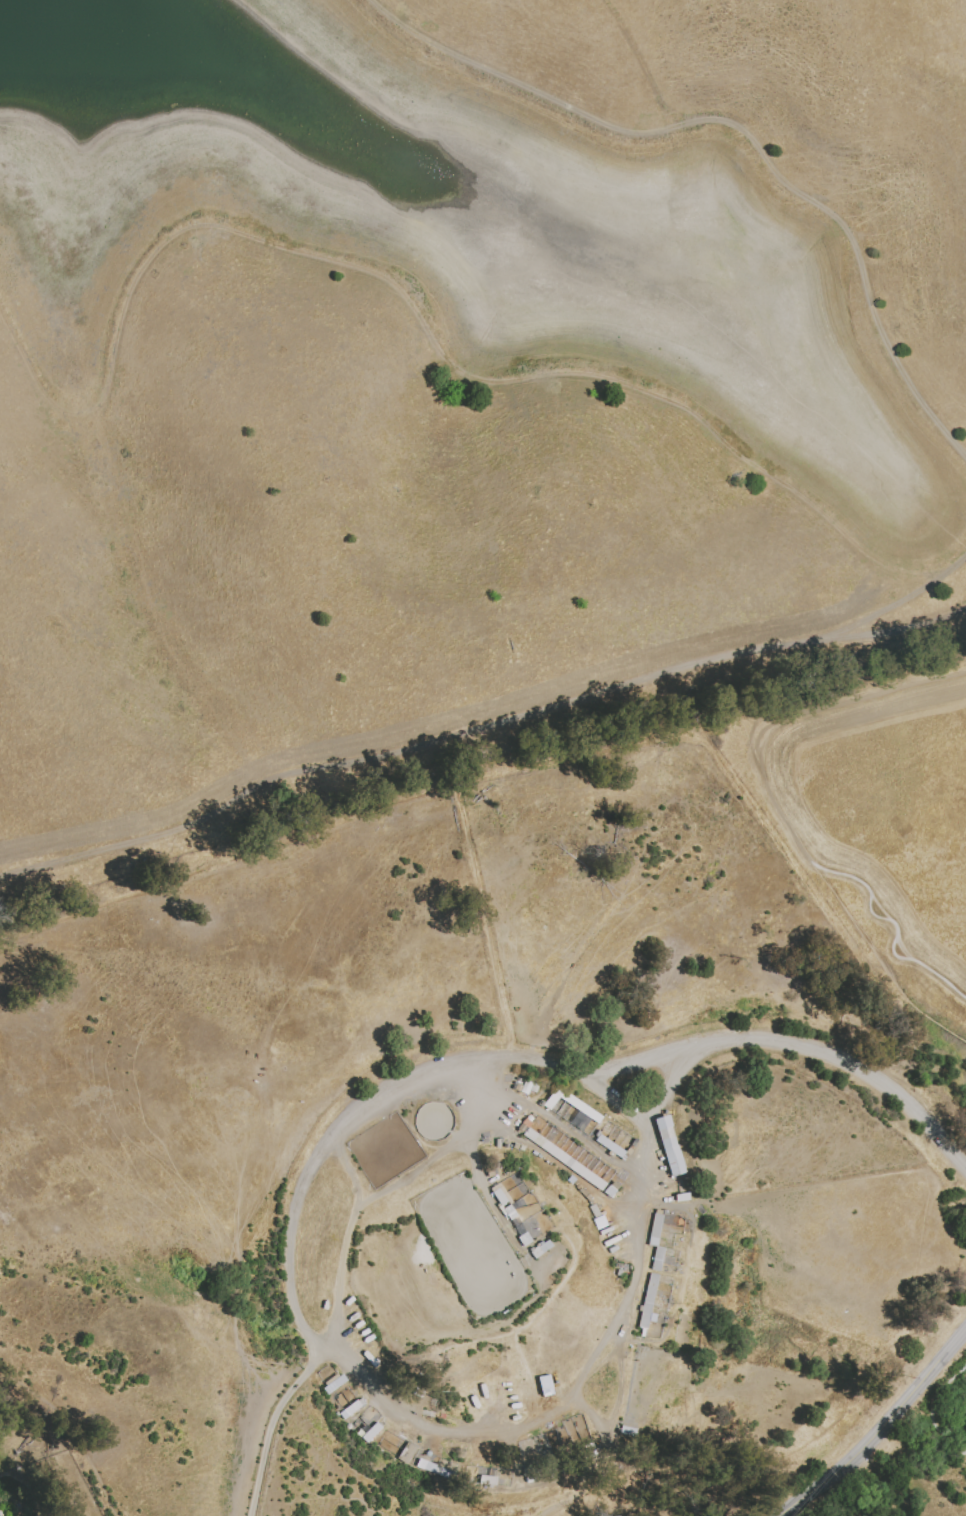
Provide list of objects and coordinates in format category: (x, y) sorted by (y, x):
road: (519, 79)
road: (815, 201)
road: (292, 249)
road: (911, 589)
road: (480, 729)
road: (581, 756)
road: (782, 815)
road: (253, 852)
road: (485, 920)
road: (896, 927)
road: (796, 1048)
building: (567, 1105)
building: (590, 1131)
building: (669, 1147)
building: (565, 1162)
road: (343, 1171)
building: (574, 1185)
road: (380, 1192)
building: (614, 1192)
building: (498, 1196)
building: (585, 1197)
building: (503, 1201)
building: (592, 1205)
building: (513, 1216)
building: (657, 1231)
building: (528, 1243)
building: (543, 1256)
building: (660, 1261)
building: (651, 1302)
road: (308, 1341)
road: (930, 1413)
road: (271, 1425)
road: (879, 1425)
building: (370, 1432)
building: (425, 1465)
building: (487, 1480)

